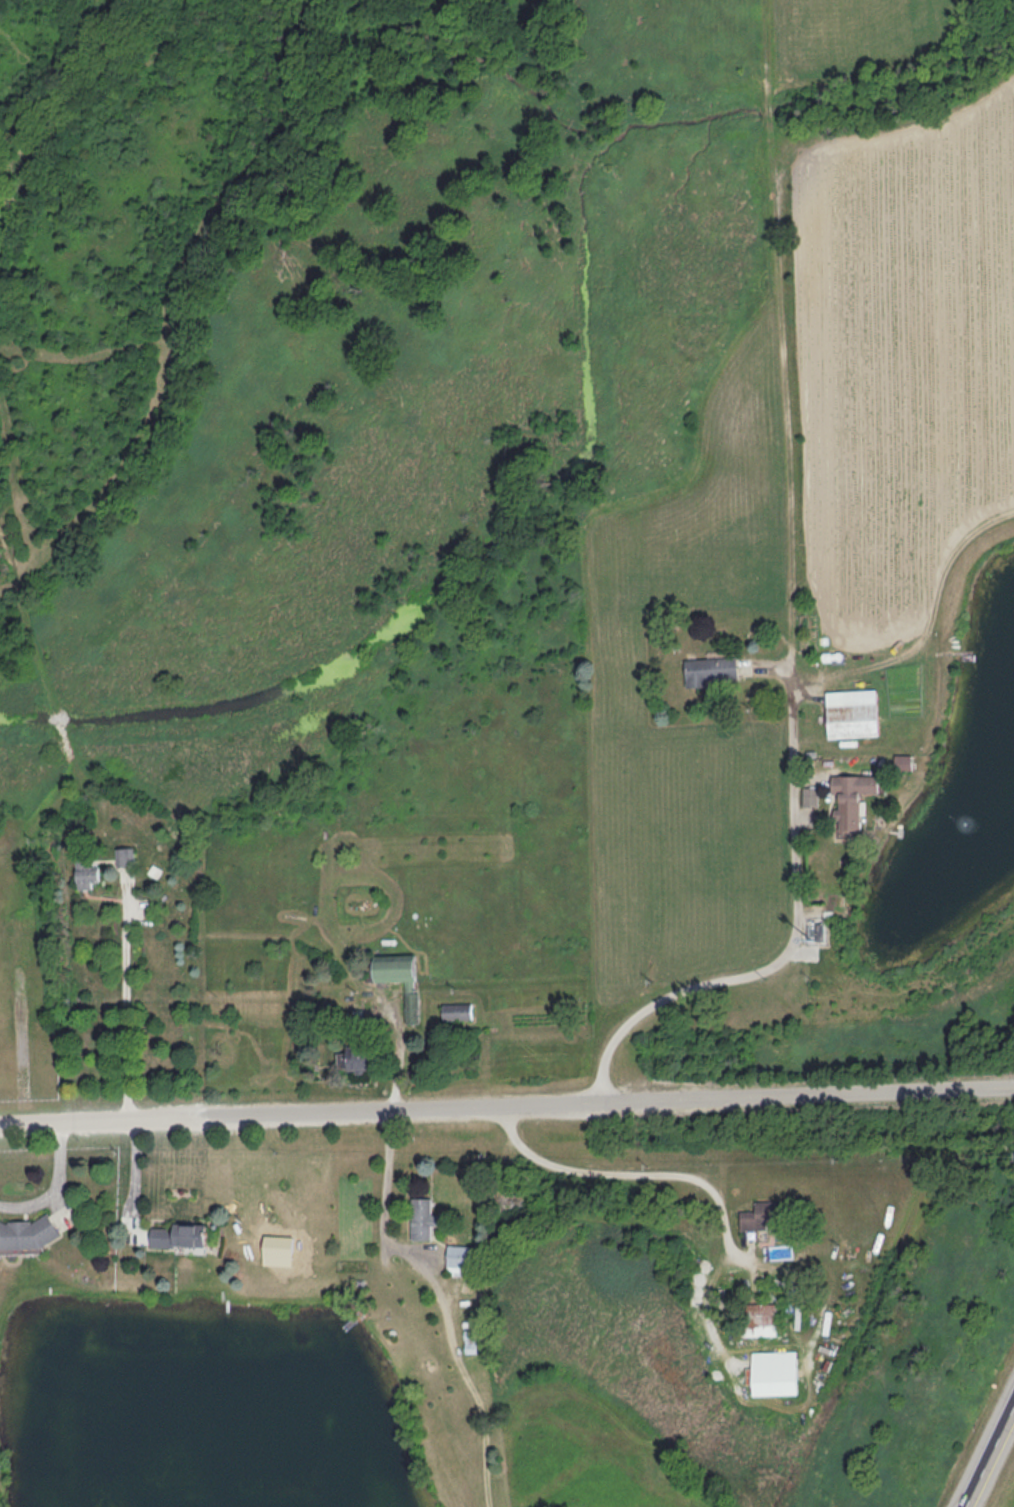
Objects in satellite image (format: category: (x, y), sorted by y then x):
building: (710, 672)
building: (855, 717)
building: (851, 802)
building: (127, 858)
building: (86, 874)
road: (798, 917)
building: (394, 969)
building: (412, 1009)
building: (457, 1012)
road: (127, 1013)
road: (396, 1053)
building: (359, 1058)
road: (602, 1101)
road: (96, 1123)
road: (634, 1172)
road: (130, 1180)
road: (60, 1190)
road: (382, 1197)
building: (506, 1199)
building: (763, 1216)
building: (421, 1220)
building: (27, 1233)
building: (178, 1236)
building: (464, 1261)
building: (762, 1320)
building: (775, 1374)
road: (991, 1461)
park: (1, 1478)

